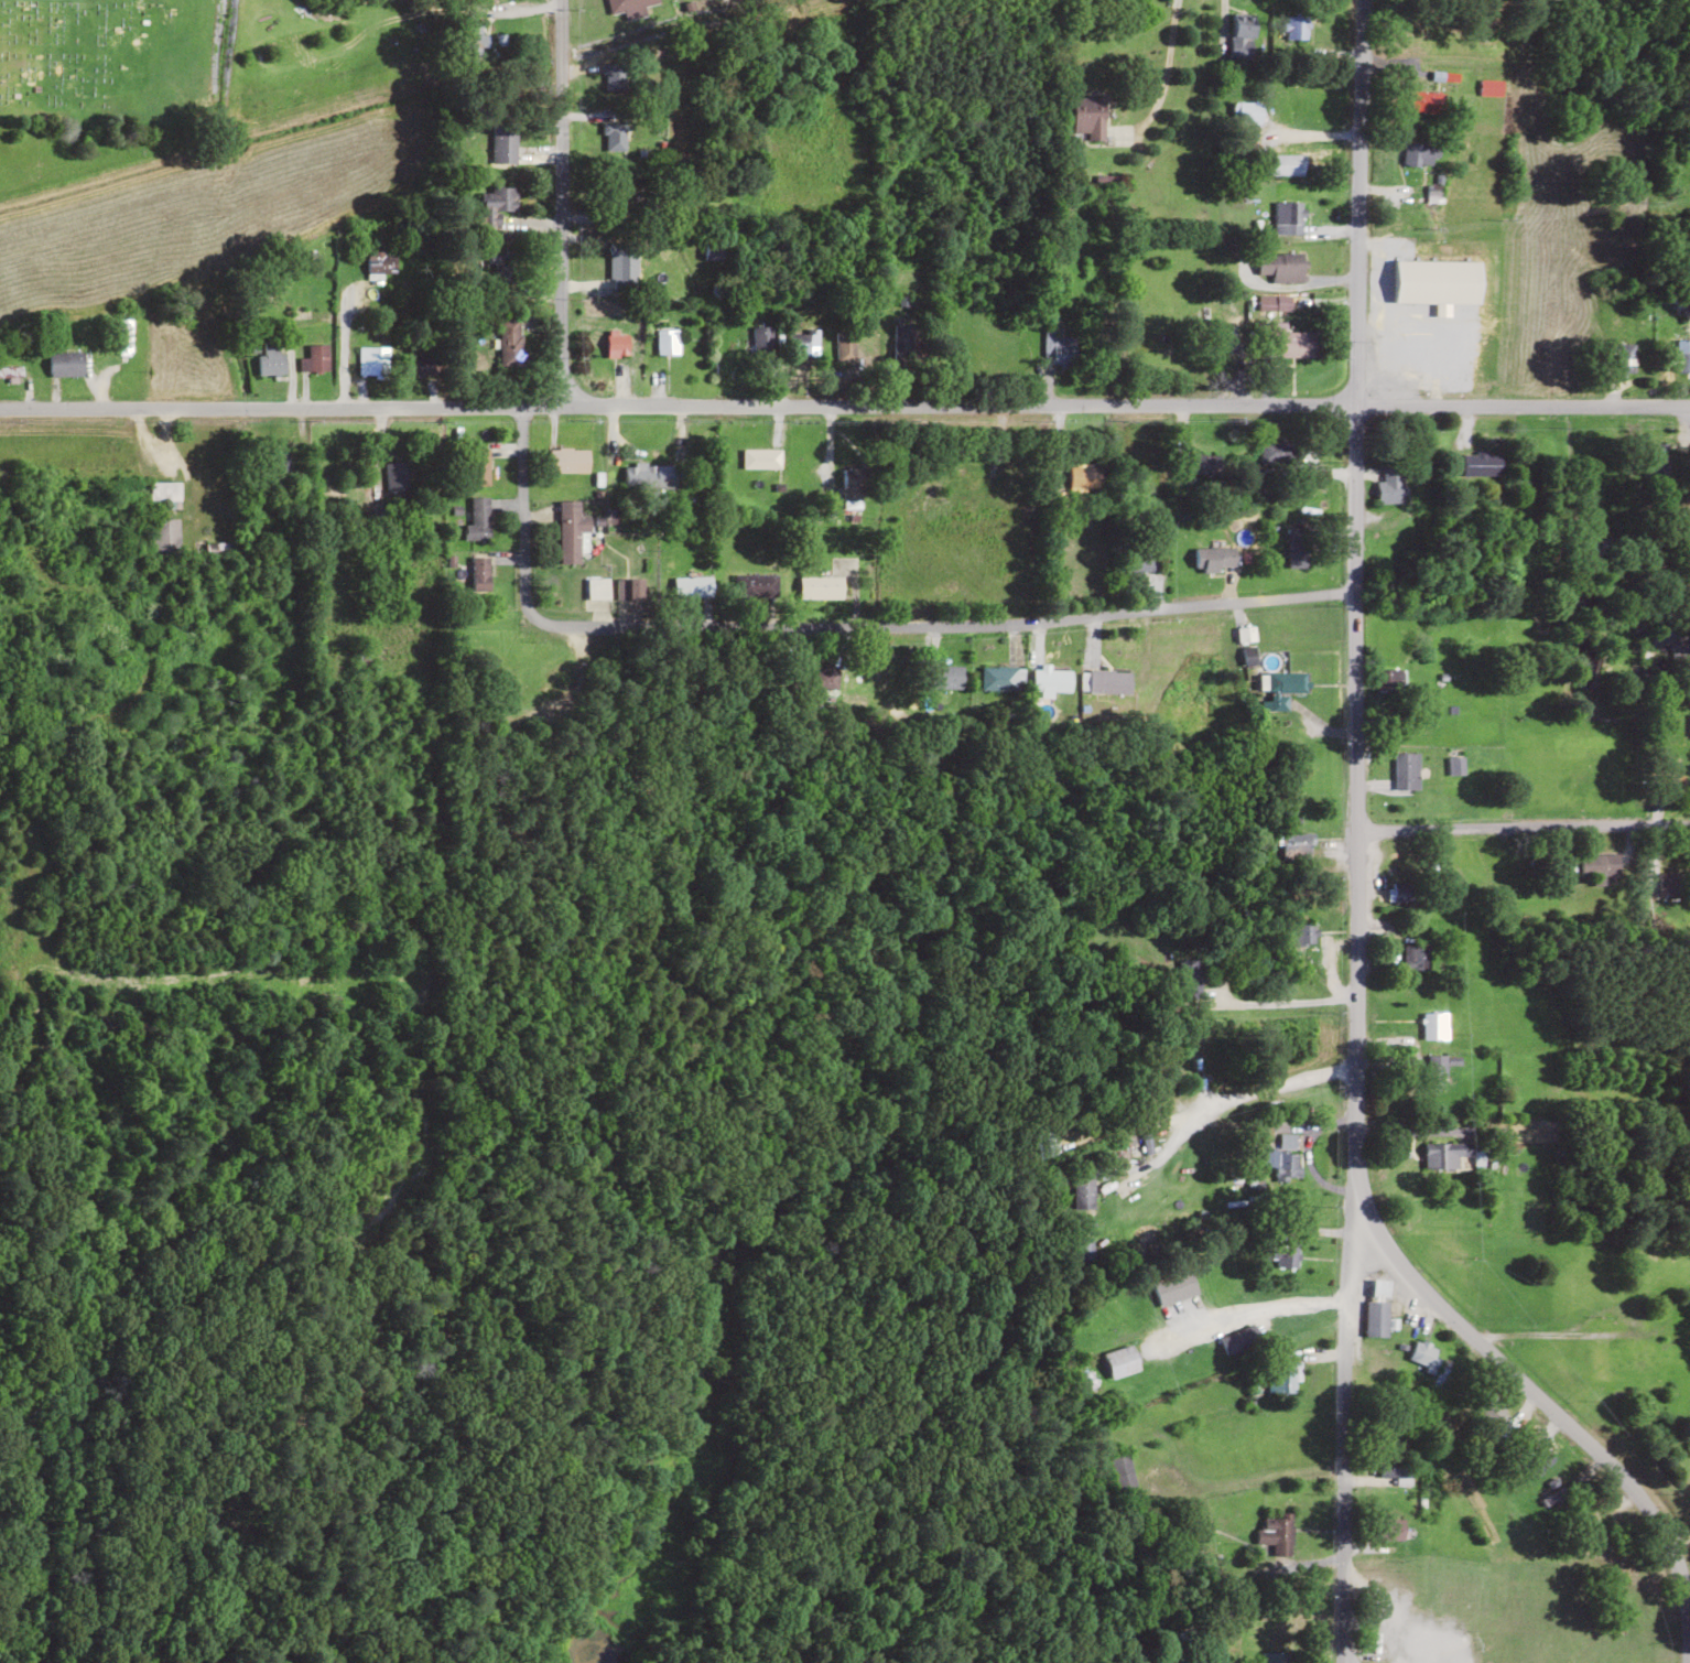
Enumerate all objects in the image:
building: (630, 7)
building: (1296, 26)
building: (472, 36)
building: (1242, 41)
building: (1489, 87)
building: (1427, 101)
building: (1245, 112)
building: (1087, 118)
building: (502, 143)
building: (629, 143)
building: (1419, 154)
building: (1286, 164)
building: (500, 199)
road: (560, 203)
building: (1287, 217)
building: (713, 250)
building: (381, 262)
building: (622, 264)
building: (503, 267)
building: (1280, 267)
building: (1418, 278)
road: (340, 334)
building: (123, 336)
building: (903, 341)
building: (1227, 341)
building: (510, 342)
building: (762, 342)
building: (667, 343)
building: (617, 344)
building: (803, 344)
building: (1297, 344)
building: (1416, 344)
building: (844, 347)
building: (1058, 349)
building: (1682, 356)
building: (1624, 358)
building: (271, 359)
building: (314, 359)
building: (372, 361)
building: (66, 364)
building: (424, 365)
building: (10, 372)
road: (844, 406)
road: (1689, 417)
building: (1277, 452)
building: (760, 458)
building: (1657, 458)
building: (568, 460)
building: (279, 462)
building: (1203, 464)
building: (1481, 464)
building: (478, 466)
building: (396, 476)
building: (640, 478)
building: (967, 478)
building: (1084, 478)
building: (1150, 478)
building: (853, 488)
building: (990, 488)
building: (164, 492)
building: (1389, 492)
building: (478, 520)
building: (571, 532)
building: (164, 538)
building: (1297, 547)
building: (1599, 547)
building: (1215, 555)
building: (1139, 562)
building: (479, 575)
road: (1352, 576)
building: (758, 585)
building: (595, 586)
building: (693, 586)
building: (820, 587)
building: (629, 590)
road: (834, 627)
building: (1672, 646)
building: (944, 677)
building: (999, 678)
building: (1048, 679)
building: (1385, 680)
building: (1108, 681)
building: (1279, 689)
building: (1455, 766)
building: (1407, 770)
building: (1669, 786)
road: (1521, 828)
building: (1293, 846)
building: (1599, 866)
building: (1401, 892)
building: (1302, 932)
building: (1411, 957)
building: (1433, 1026)
building: (1187, 1044)
building: (1434, 1069)
road: (1241, 1095)
building: (1445, 1154)
building: (1283, 1157)
building: (1081, 1191)
building: (1285, 1254)
building: (1376, 1317)
building: (1239, 1338)
building: (1422, 1353)
building: (1635, 1359)
building: (1122, 1361)
building: (1283, 1375)
road: (1539, 1400)
road: (1343, 1408)
building: (1119, 1466)
building: (1395, 1469)
building: (1390, 1529)
building: (1276, 1534)
building: (1275, 1657)

